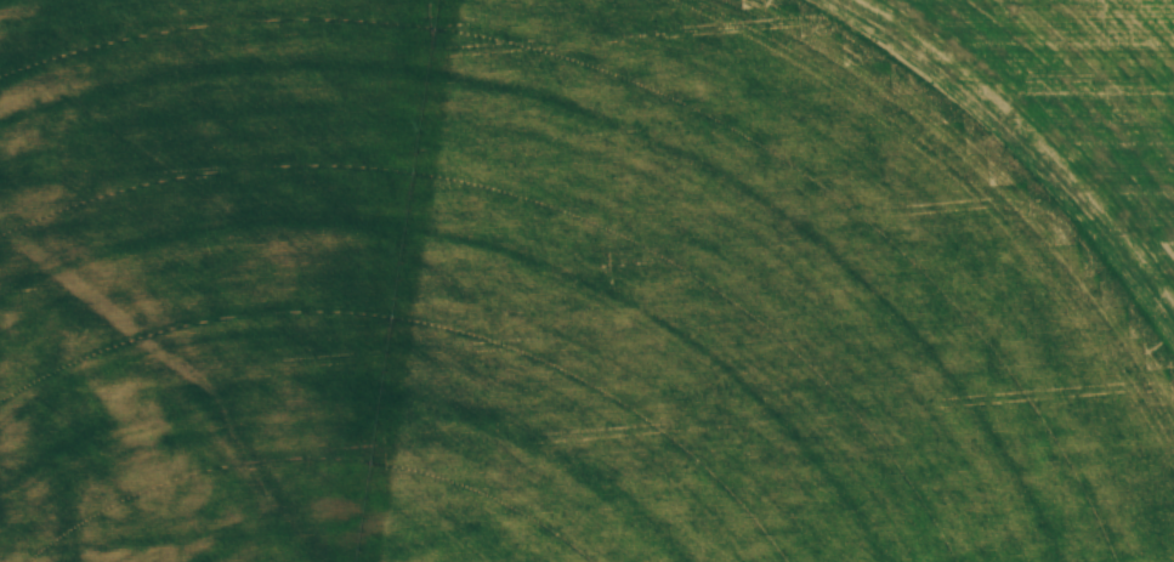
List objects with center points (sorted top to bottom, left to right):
crop: (586, 280)

